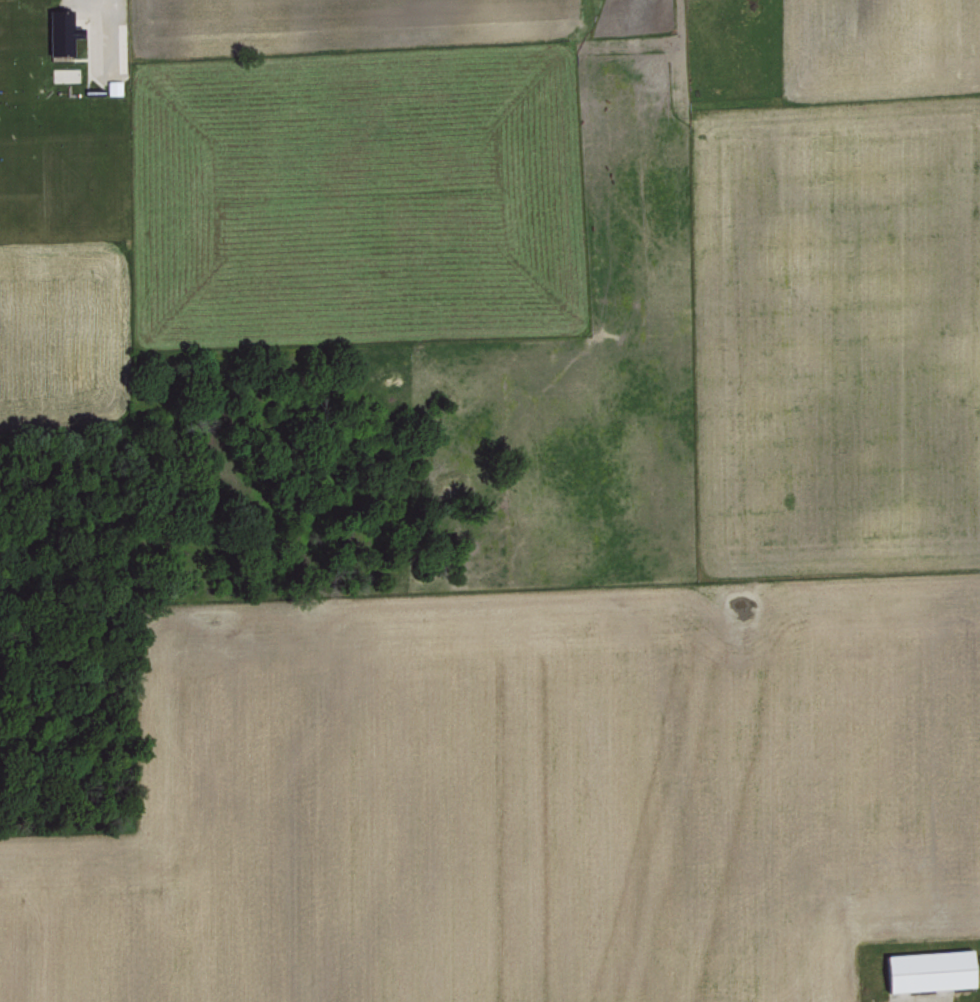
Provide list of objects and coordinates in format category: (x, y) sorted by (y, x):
road: (106, 7)
building: (60, 31)
building: (113, 86)
road: (411, 89)
building: (929, 968)

